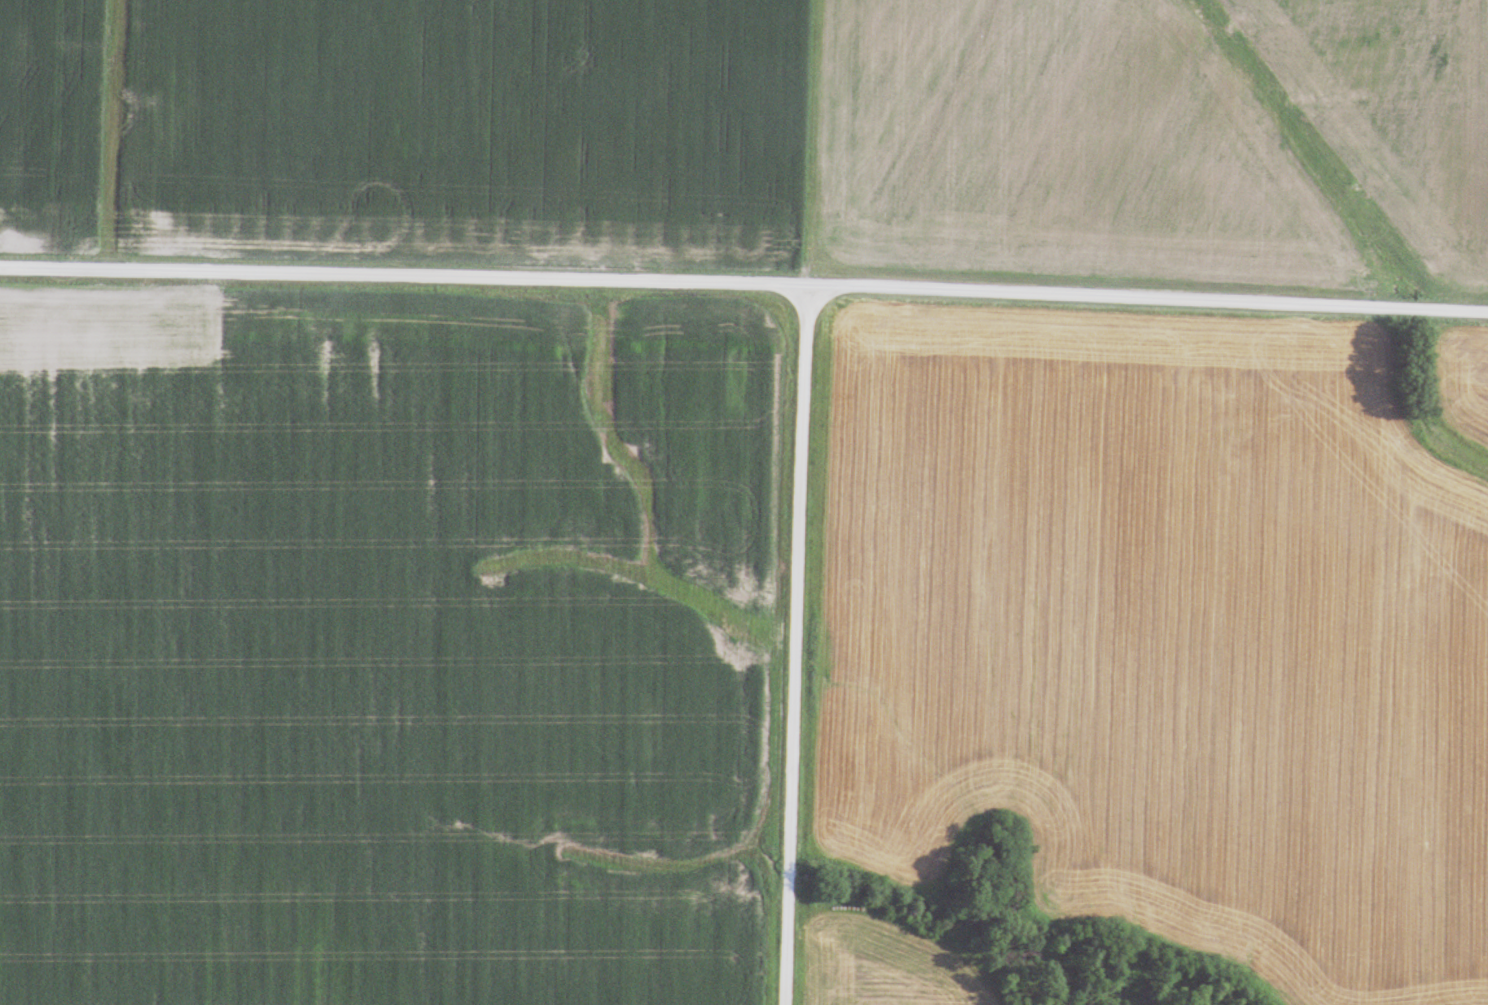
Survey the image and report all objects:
road: (744, 283)
road: (787, 645)

